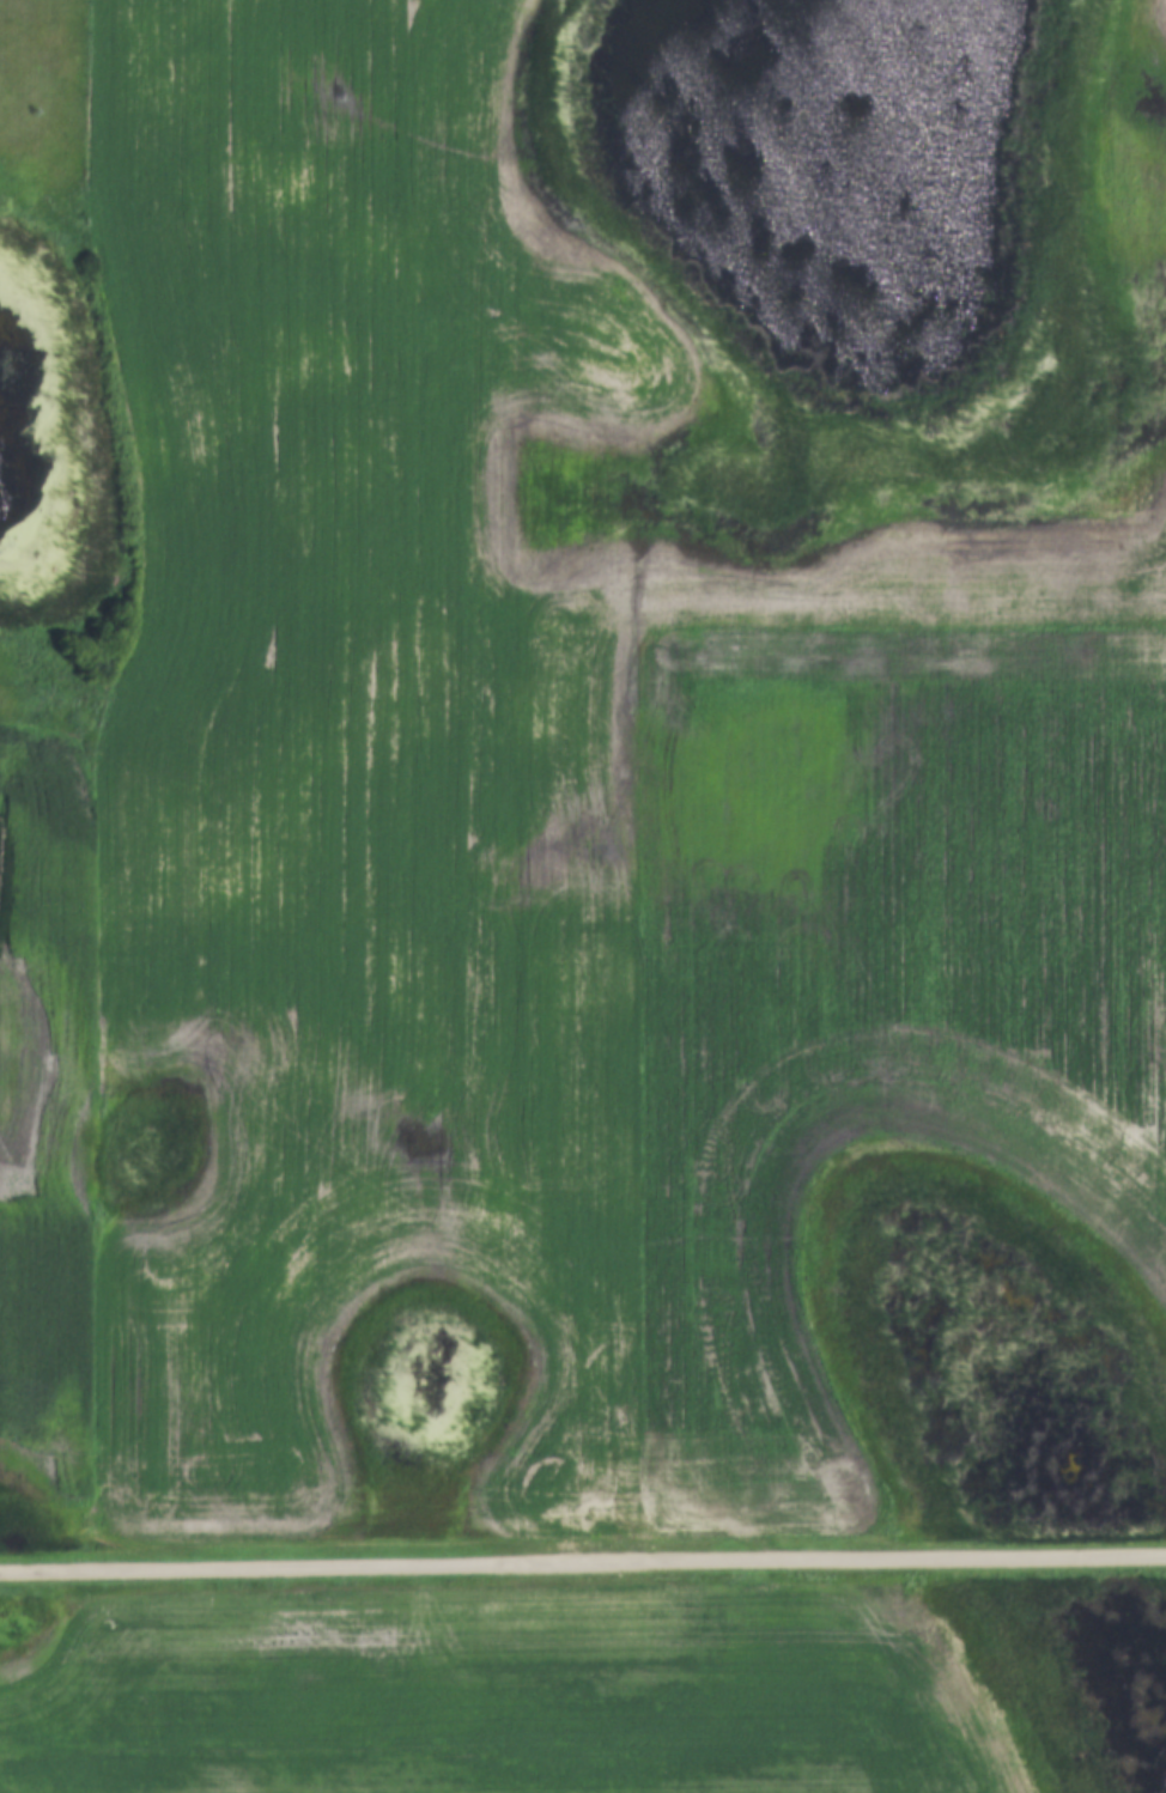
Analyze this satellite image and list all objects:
road: (582, 1568)

